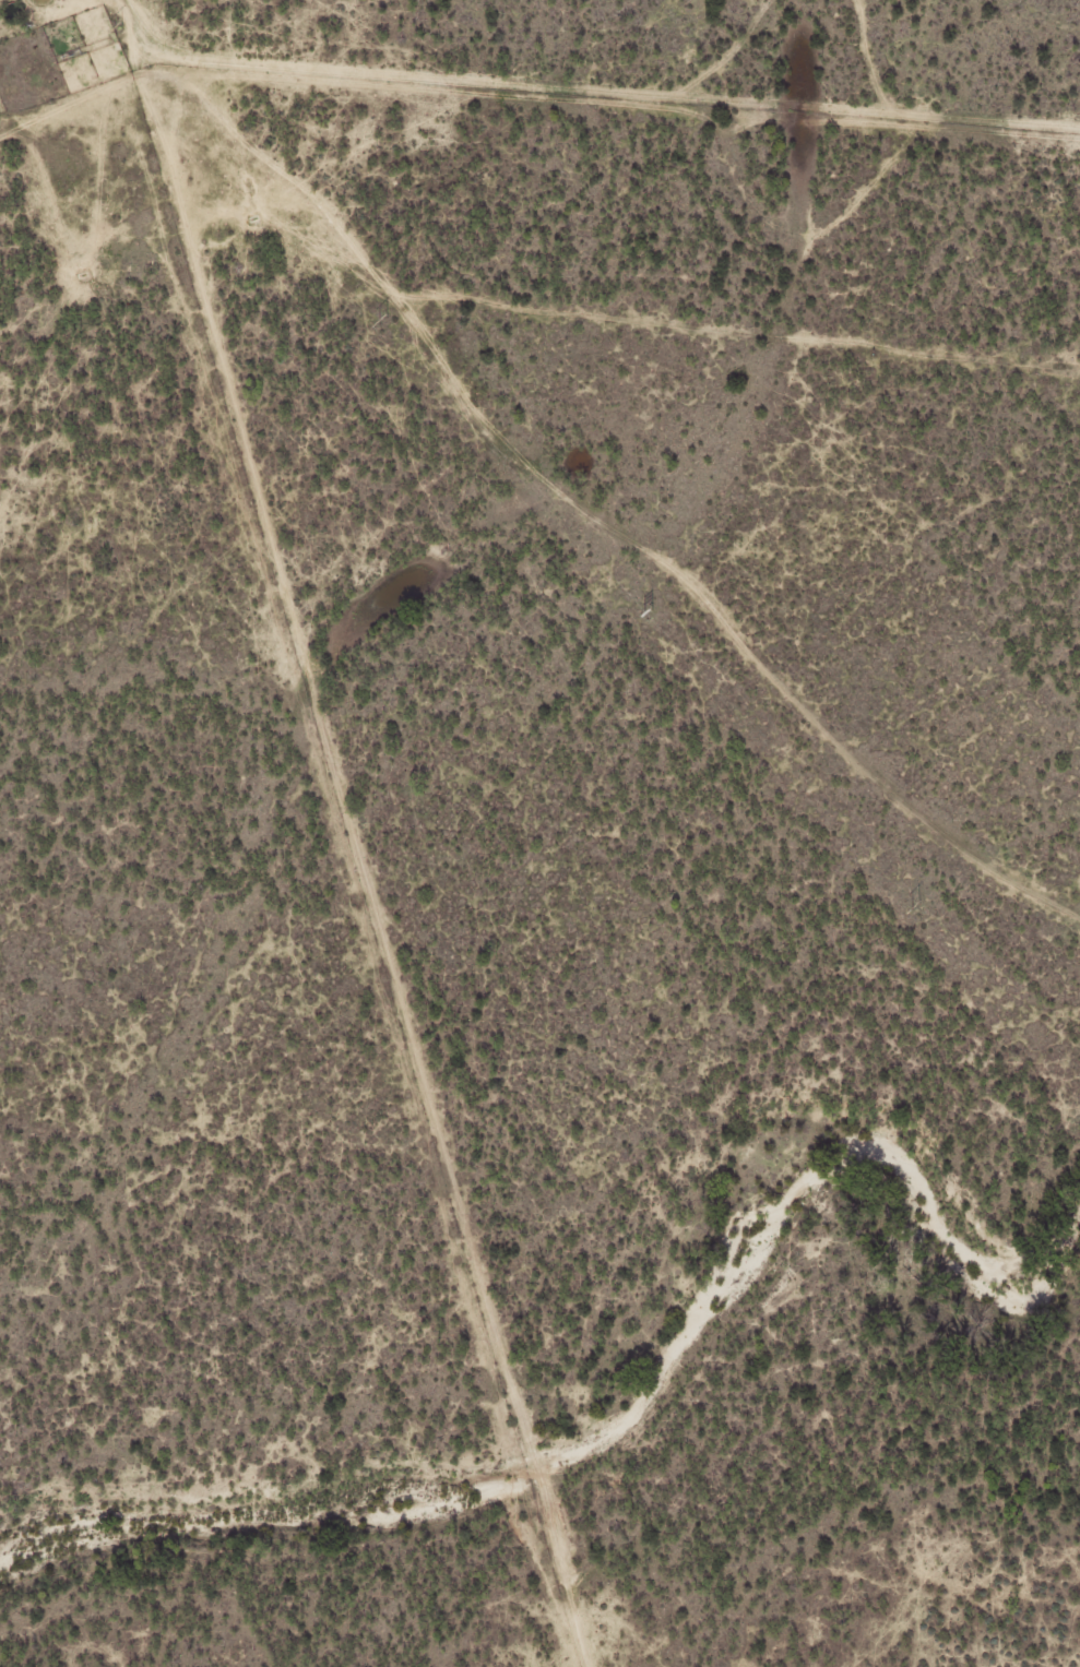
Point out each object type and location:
power tower: (117, 29)
road: (99, 43)
power tower: (381, 321)
road: (534, 456)
power tower: (649, 614)
power tower: (913, 906)

